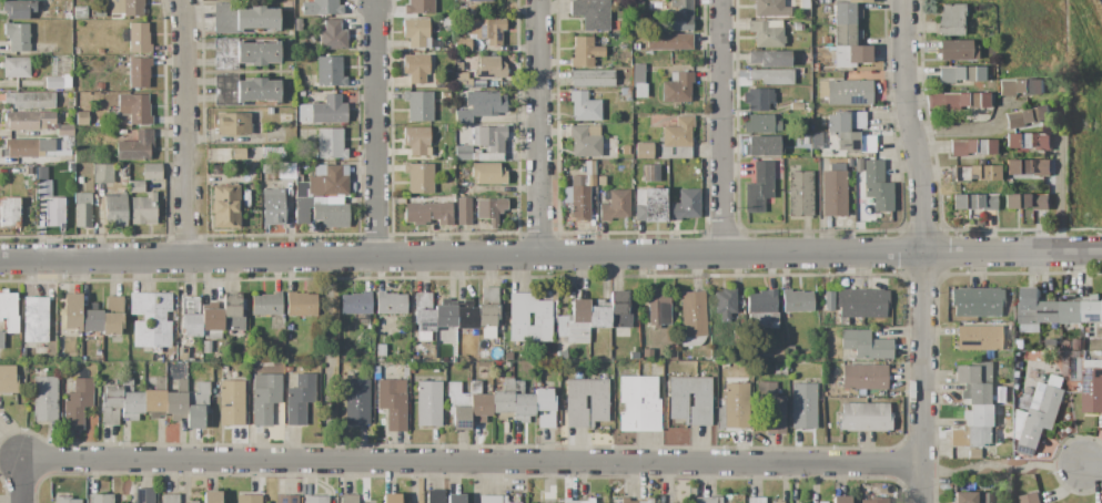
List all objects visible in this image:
building: (477, 1)
building: (822, 1)
building: (851, 1)
building: (803, 4)
building: (127, 7)
building: (418, 7)
building: (322, 8)
building: (770, 8)
building: (18, 9)
building: (80, 12)
building: (99, 12)
building: (846, 13)
building: (593, 14)
building: (801, 16)
building: (679, 17)
building: (243, 19)
building: (950, 19)
building: (447, 22)
building: (297, 24)
building: (798, 27)
building: (486, 30)
building: (416, 33)
building: (767, 33)
building: (845, 34)
building: (333, 35)
building: (18, 37)
building: (137, 38)
building: (826, 40)
building: (668, 42)
building: (462, 44)
building: (635, 45)
building: (793, 48)
building: (956, 50)
building: (75, 51)
building: (89, 51)
building: (100, 52)
building: (585, 52)
building: (243, 53)
building: (852, 57)
building: (770, 59)
building: (458, 66)
crop: (1039, 66)
building: (16, 68)
building: (415, 68)
building: (489, 68)
building: (139, 72)
building: (330, 72)
building: (961, 74)
building: (771, 76)
building: (592, 79)
building: (638, 81)
building: (467, 82)
building: (54, 83)
building: (100, 86)
building: (677, 88)
building: (1021, 88)
building: (243, 91)
building: (846, 92)
building: (445, 96)
building: (757, 99)
building: (30, 100)
building: (958, 101)
building: (419, 106)
building: (481, 106)
building: (584, 106)
building: (796, 106)
building: (134, 109)
building: (328, 110)
building: (1029, 116)
building: (81, 119)
building: (285, 119)
building: (28, 121)
building: (845, 121)
building: (636, 123)
building: (232, 124)
building: (760, 124)
road: (193, 129)
road: (544, 129)
road: (720, 129)
building: (64, 131)
building: (121, 132)
road: (375, 132)
building: (677, 138)
building: (807, 138)
building: (417, 141)
building: (586, 141)
building: (817, 141)
building: (1029, 141)
building: (855, 143)
building: (330, 144)
building: (484, 145)
building: (135, 146)
building: (761, 146)
building: (31, 147)
building: (972, 147)
building: (625, 151)
building: (643, 151)
building: (850, 163)
building: (1031, 168)
building: (52, 170)
building: (123, 171)
building: (30, 172)
building: (151, 172)
building: (41, 173)
building: (974, 173)
building: (103, 174)
building: (488, 174)
building: (650, 174)
building: (418, 177)
building: (600, 181)
building: (324, 183)
building: (877, 186)
building: (43, 187)
building: (135, 187)
building: (758, 188)
building: (833, 191)
building: (582, 193)
building: (799, 194)
road: (1059, 198)
building: (973, 202)
building: (1027, 202)
building: (615, 205)
building: (649, 205)
building: (685, 205)
building: (273, 206)
building: (225, 207)
building: (143, 209)
building: (82, 211)
building: (114, 211)
building: (489, 211)
building: (9, 212)
building: (463, 212)
building: (54, 214)
building: (321, 214)
building: (428, 214)
road: (922, 250)
road: (550, 257)
building: (827, 300)
building: (797, 301)
building: (862, 302)
building: (977, 302)
building: (356, 304)
building: (390, 304)
building: (725, 304)
building: (266, 305)
building: (300, 305)
building: (658, 308)
building: (762, 308)
building: (1050, 309)
building: (1092, 309)
building: (1072, 310)
building: (9, 311)
building: (1030, 311)
building: (72, 312)
building: (232, 312)
building: (488, 312)
building: (619, 314)
building: (598, 315)
building: (422, 316)
building: (445, 316)
building: (112, 317)
building: (190, 317)
building: (466, 318)
building: (692, 318)
building: (528, 319)
building: (150, 320)
building: (92, 321)
building: (211, 321)
building: (34, 324)
building: (573, 327)
building: (978, 339)
building: (1, 340)
building: (1069, 343)
building: (865, 345)
building: (1020, 345)
building: (1079, 345)
building: (206, 347)
building: (789, 349)
building: (59, 350)
building: (381, 350)
building: (98, 352)
building: (182, 353)
building: (647, 353)
building: (1095, 353)
building: (483, 355)
building: (634, 356)
building: (367, 357)
building: (507, 357)
building: (376, 368)
building: (435, 368)
building: (287, 369)
building: (780, 370)
building: (973, 373)
building: (865, 377)
building: (8, 380)
building: (1017, 383)
building: (1092, 387)
building: (983, 394)
building: (155, 397)
building: (265, 397)
building: (176, 398)
building: (44, 399)
building: (299, 399)
building: (690, 400)
building: (503, 401)
building: (131, 402)
building: (356, 402)
building: (586, 402)
building: (77, 403)
building: (232, 403)
building: (393, 403)
building: (479, 403)
building: (522, 403)
building: (428, 404)
building: (639, 404)
building: (111, 406)
building: (198, 406)
building: (736, 406)
building: (803, 406)
building: (458, 407)
building: (545, 407)
building: (772, 407)
building: (1038, 413)
building: (979, 415)
building: (865, 418)
building: (1009, 423)
building: (973, 437)
building: (977, 454)
road: (472, 464)
road: (1007, 468)
road: (1096, 471)
road: (20, 482)
building: (144, 495)
building: (435, 496)
building: (212, 497)
building: (964, 497)
building: (100, 499)
building: (170, 499)
building: (247, 499)
building: (348, 499)
building: (391, 499)
building: (457, 499)
building: (987, 499)
building: (1031, 499)
building: (65, 500)
building: (287, 500)
building: (316, 500)
building: (492, 500)
building: (710, 500)
building: (756, 500)
building: (841, 500)
building: (874, 501)
building: (193, 502)
building: (373, 502)

